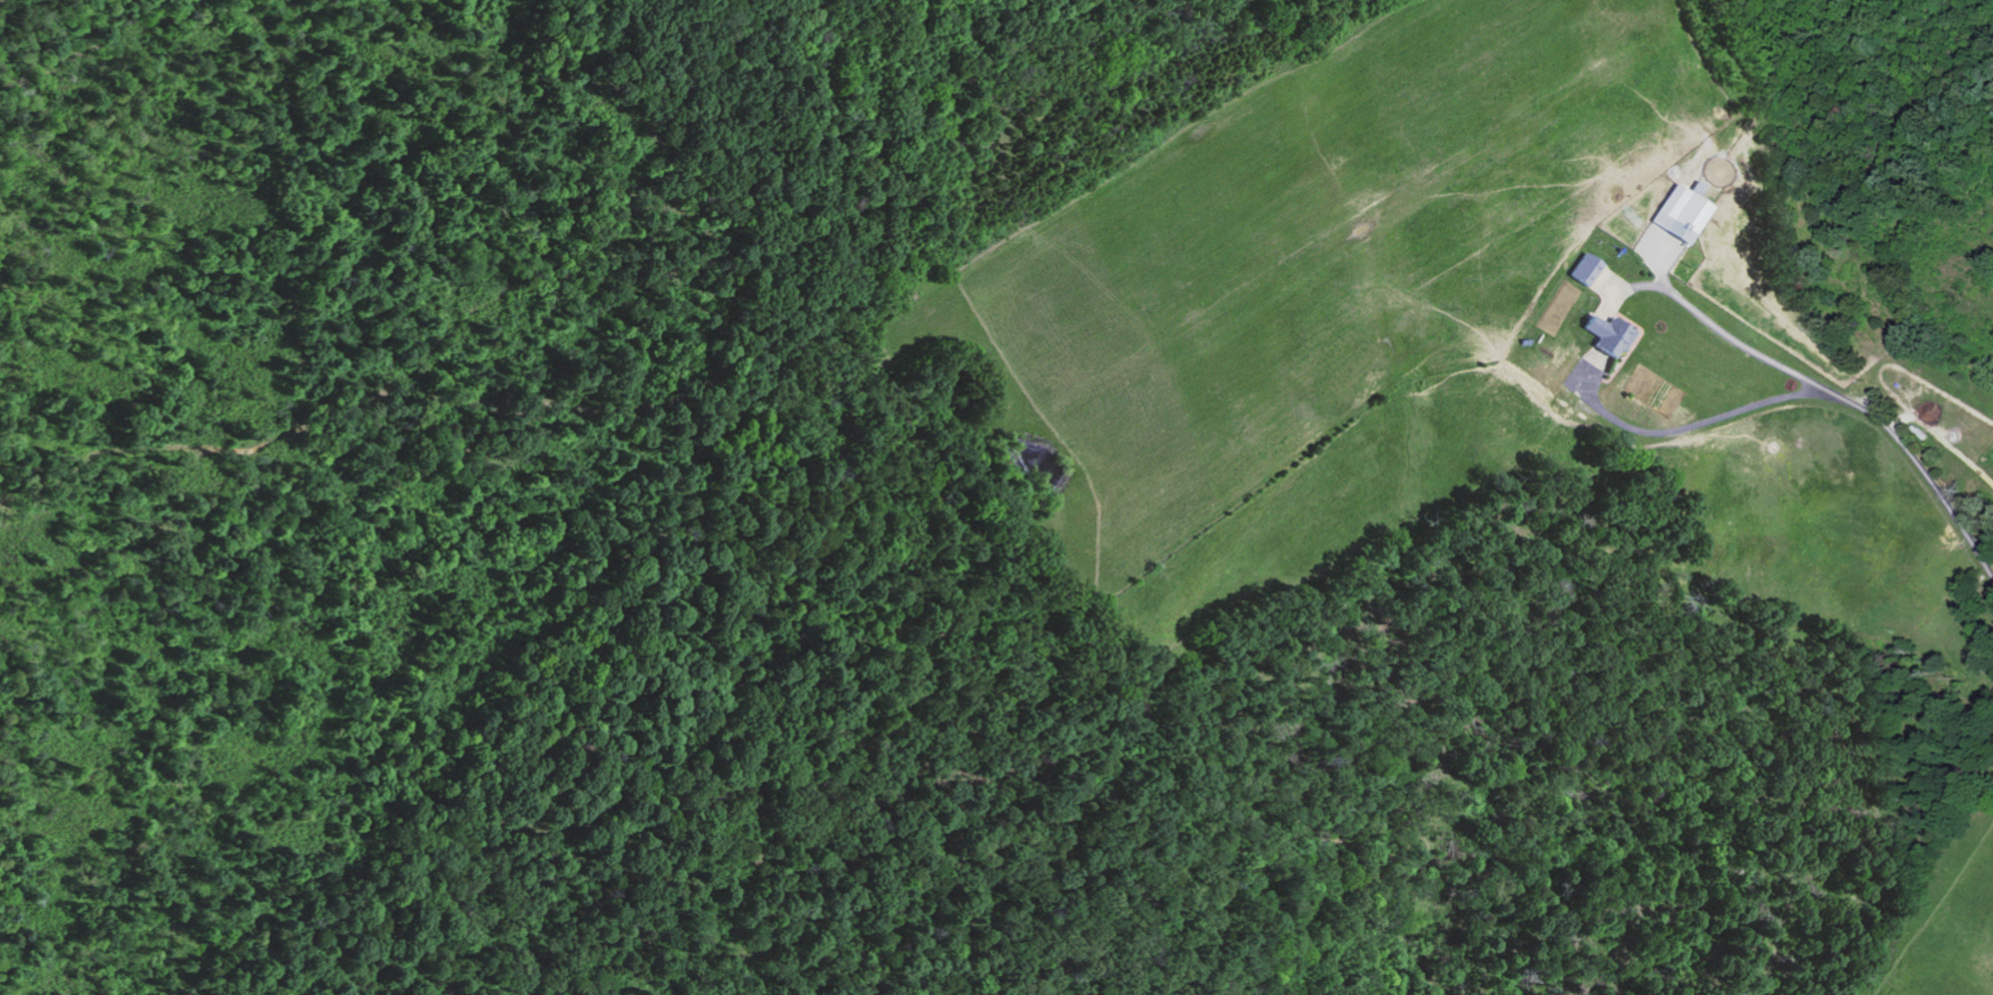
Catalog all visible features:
building: (1683, 213)
building: (1587, 270)
building: (1611, 336)

